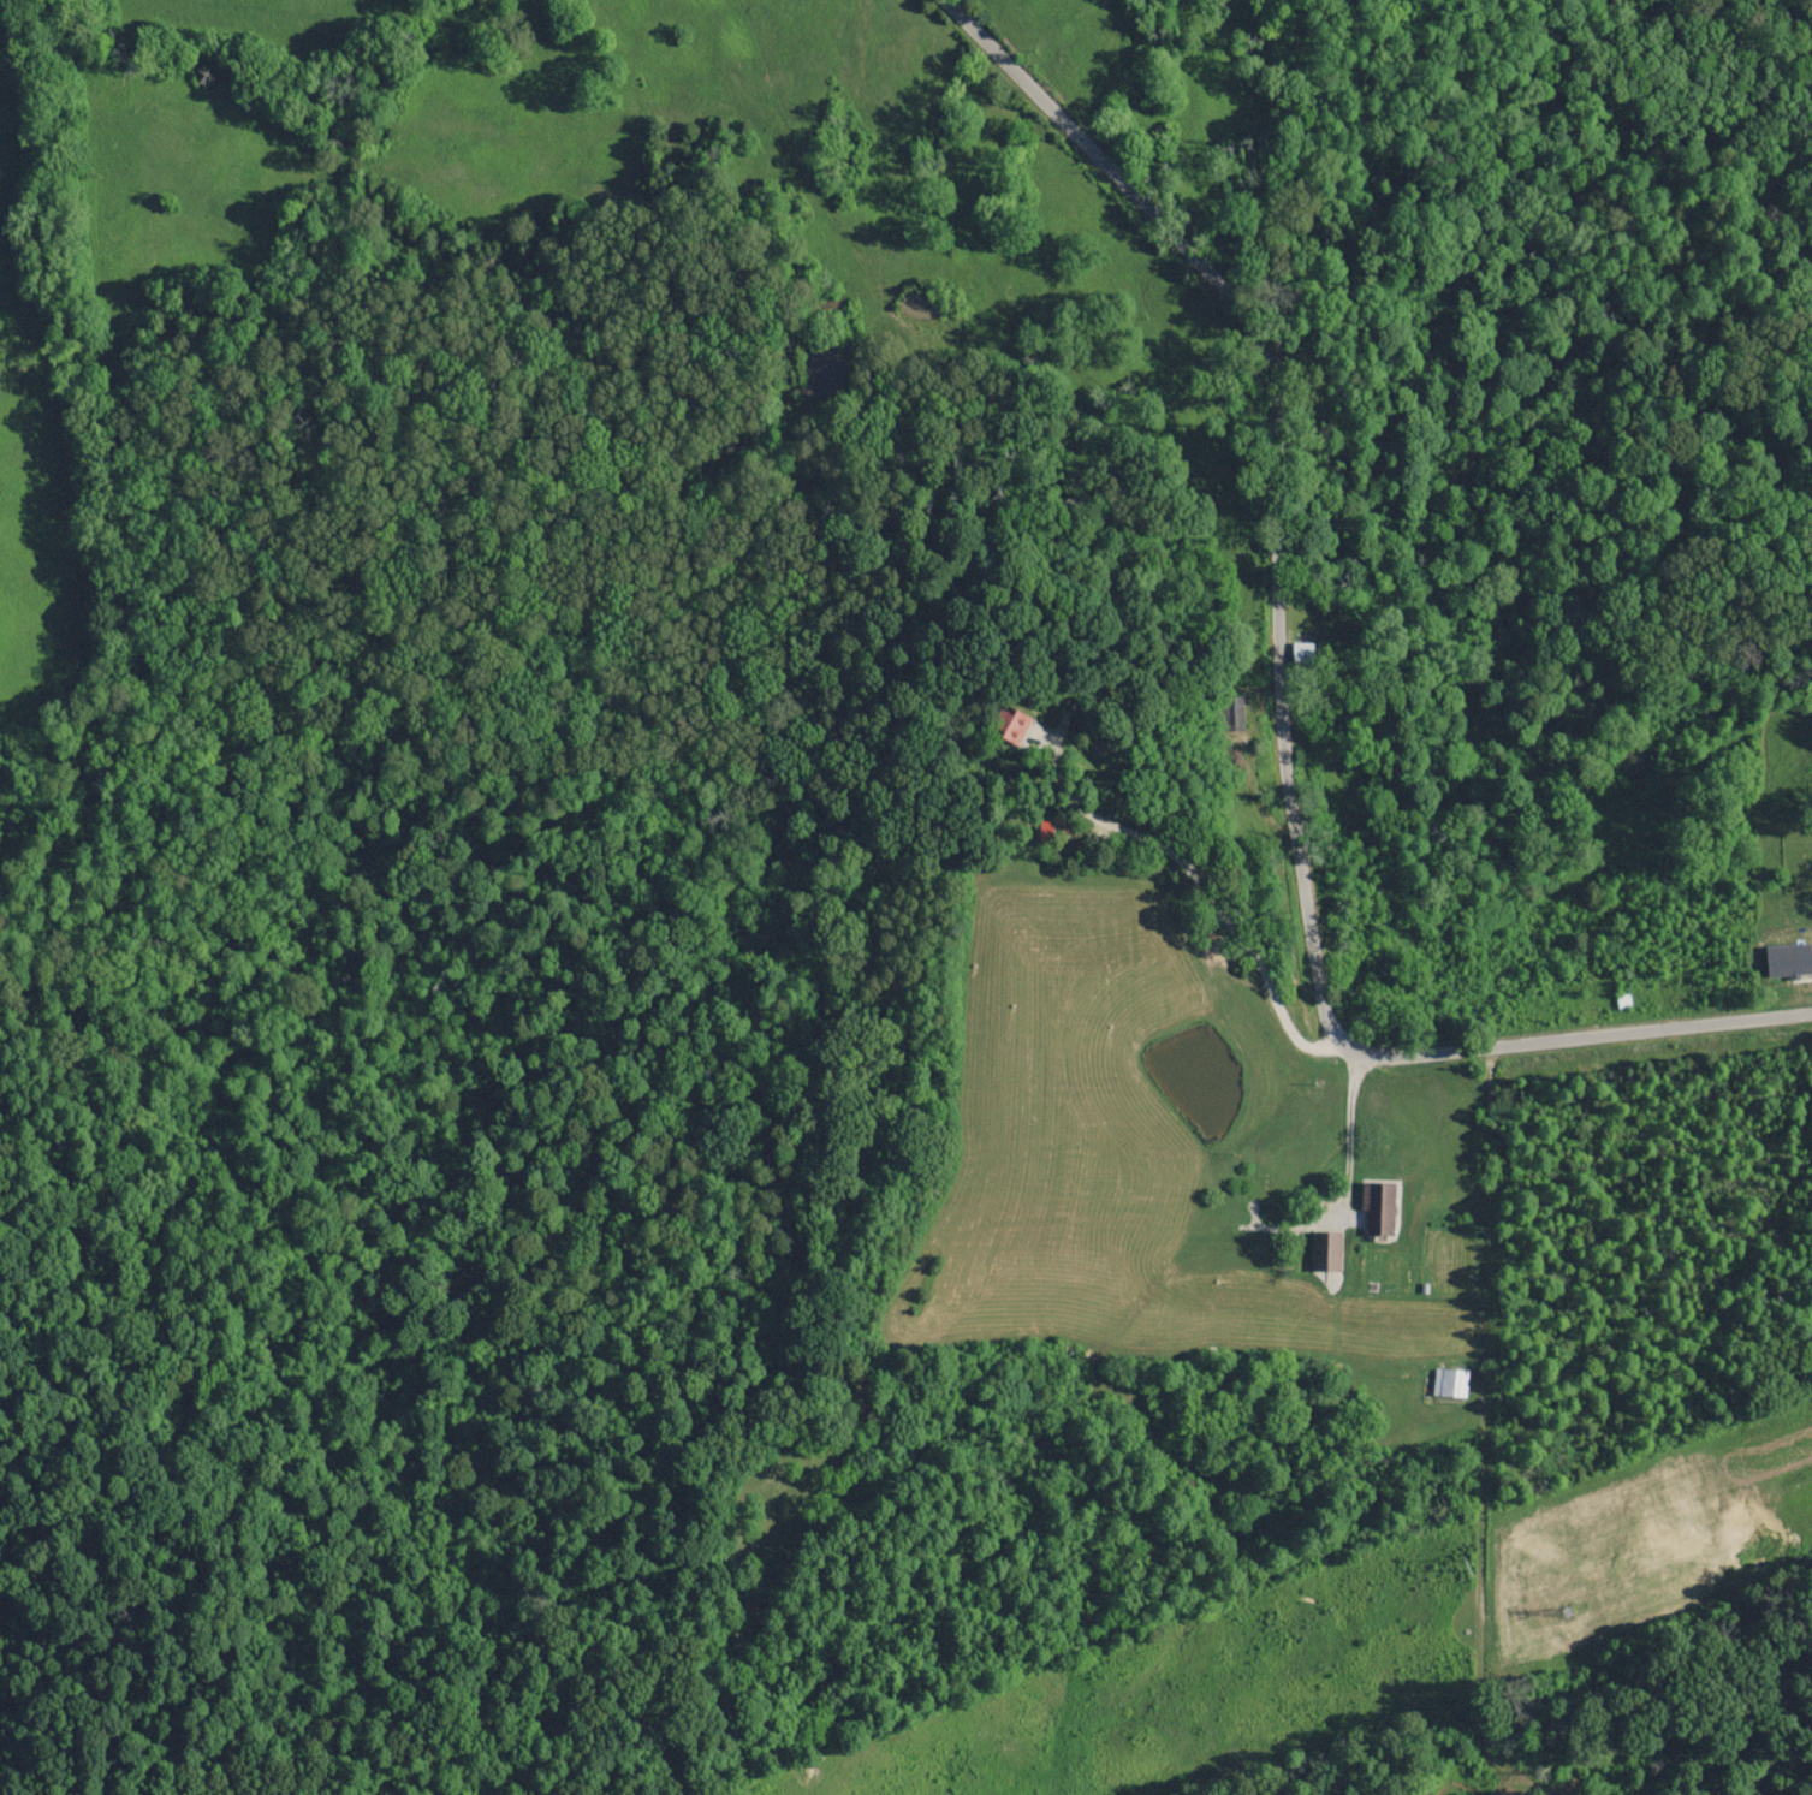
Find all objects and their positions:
road: (1297, 696)
building: (1224, 715)
building: (1002, 726)
building: (1374, 1211)
building: (1446, 1385)

